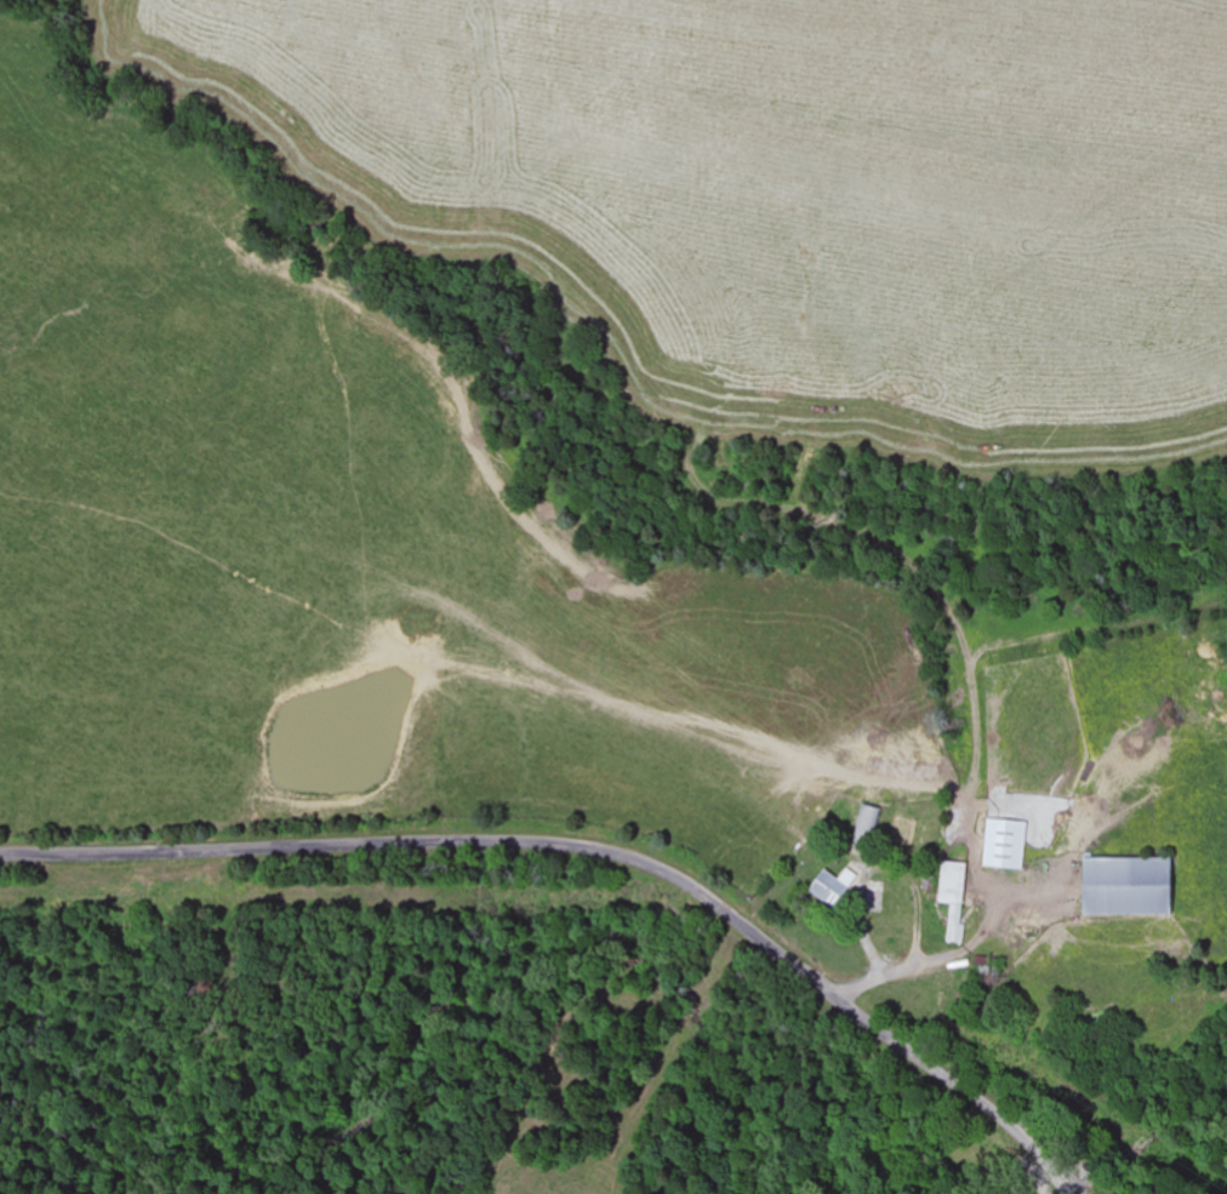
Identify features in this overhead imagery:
building: (863, 829)
building: (1005, 844)
road: (592, 856)
building: (957, 880)
building: (1131, 886)
building: (833, 889)
building: (889, 897)
building: (954, 931)
building: (988, 967)

